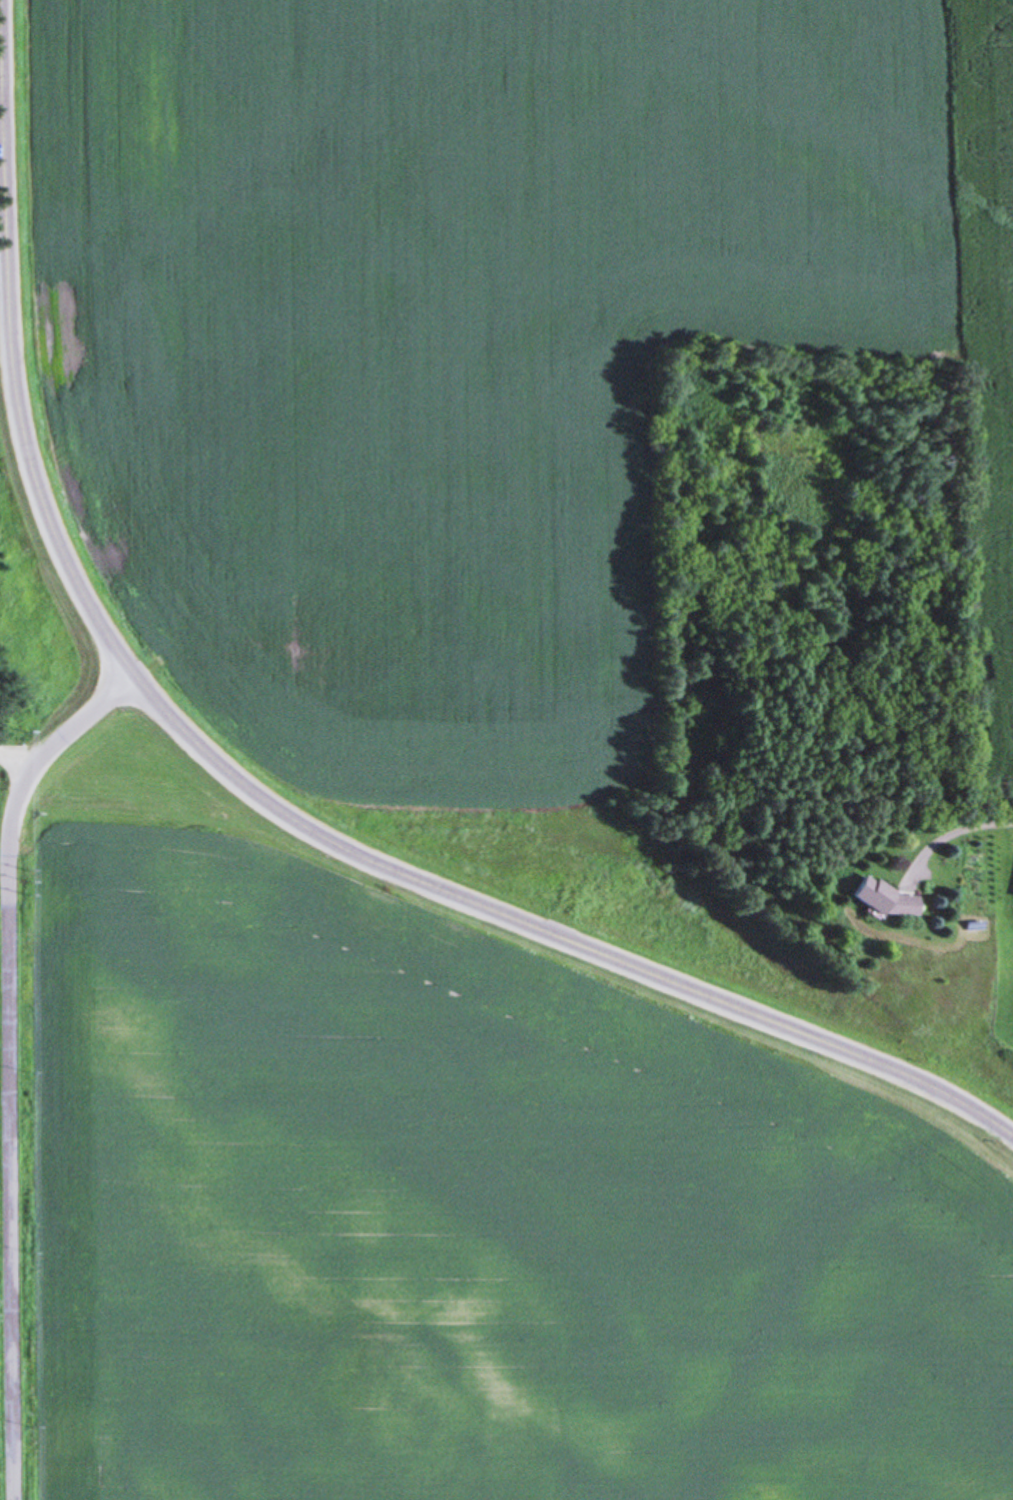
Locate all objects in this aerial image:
road: (1, 125)
road: (15, 768)
road: (252, 785)
road: (997, 819)
building: (882, 885)
road: (8, 1061)

